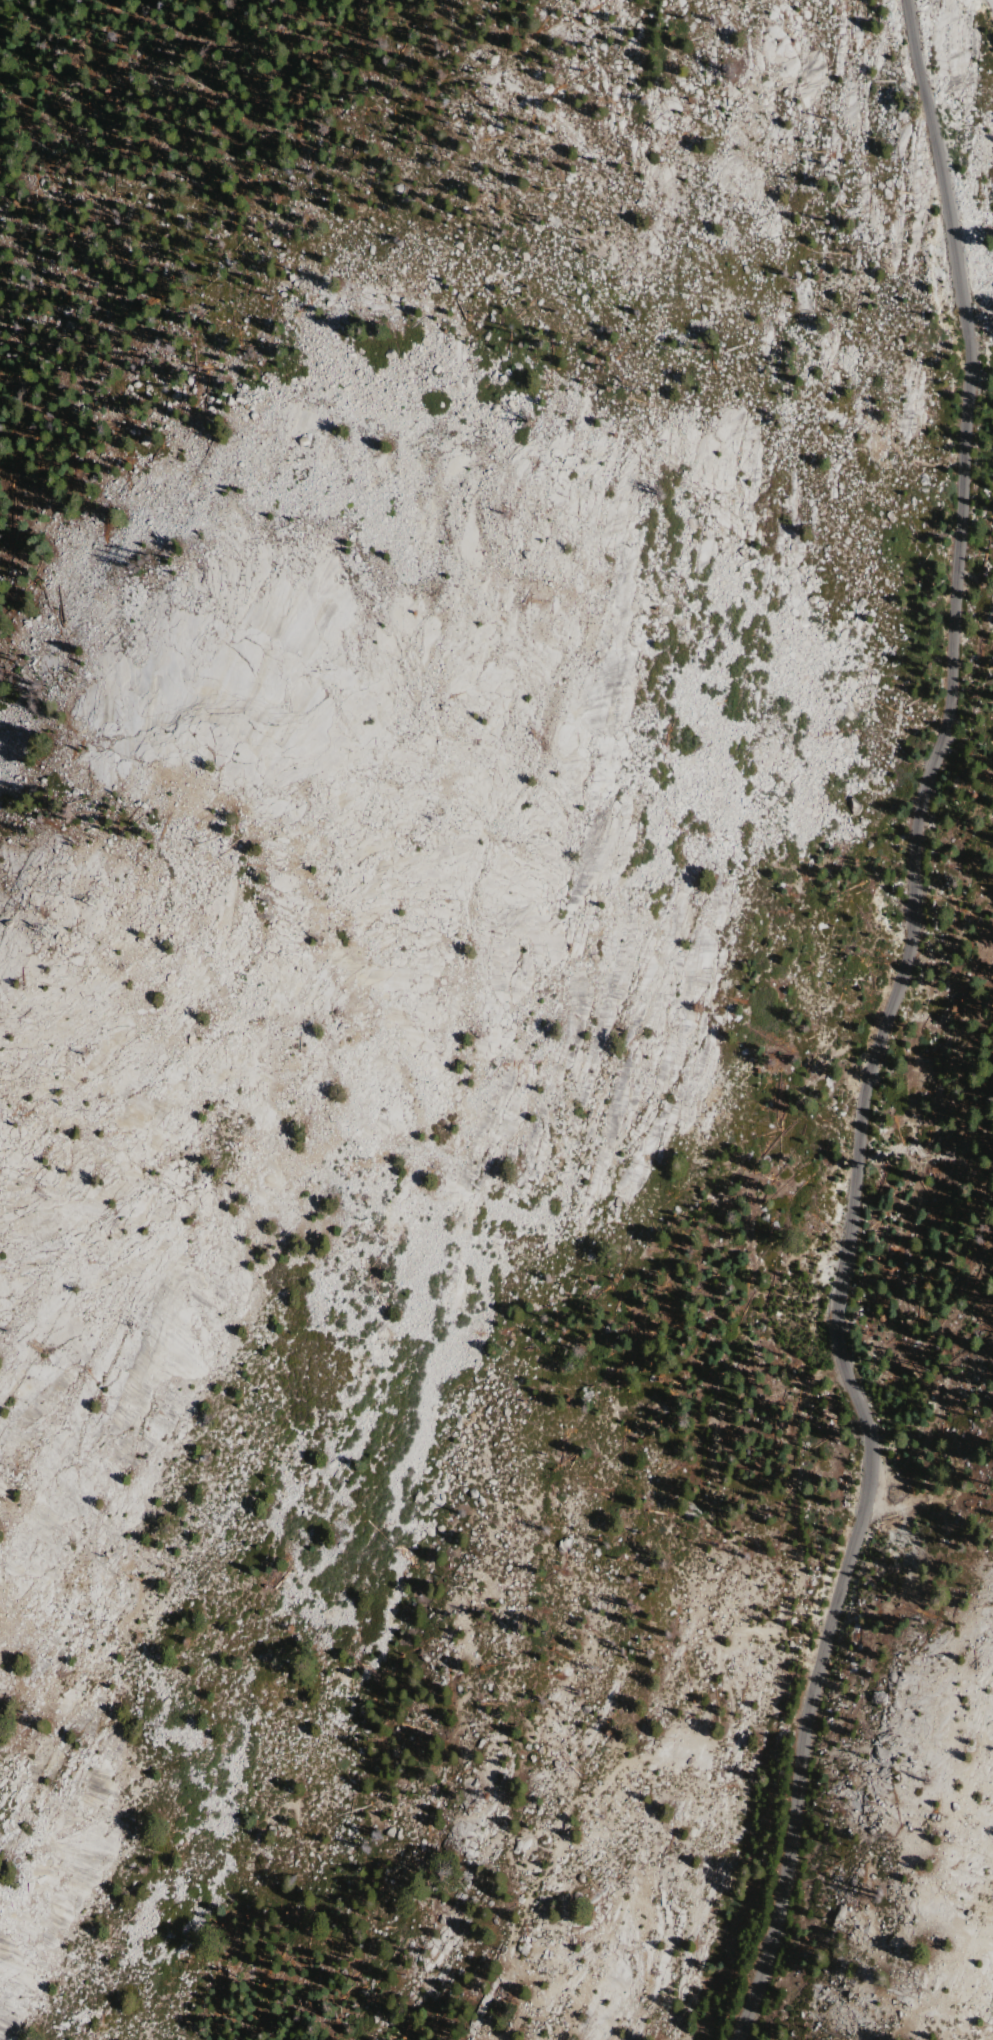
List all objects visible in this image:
road: (992, 1)
road: (957, 649)
road: (819, 1664)

